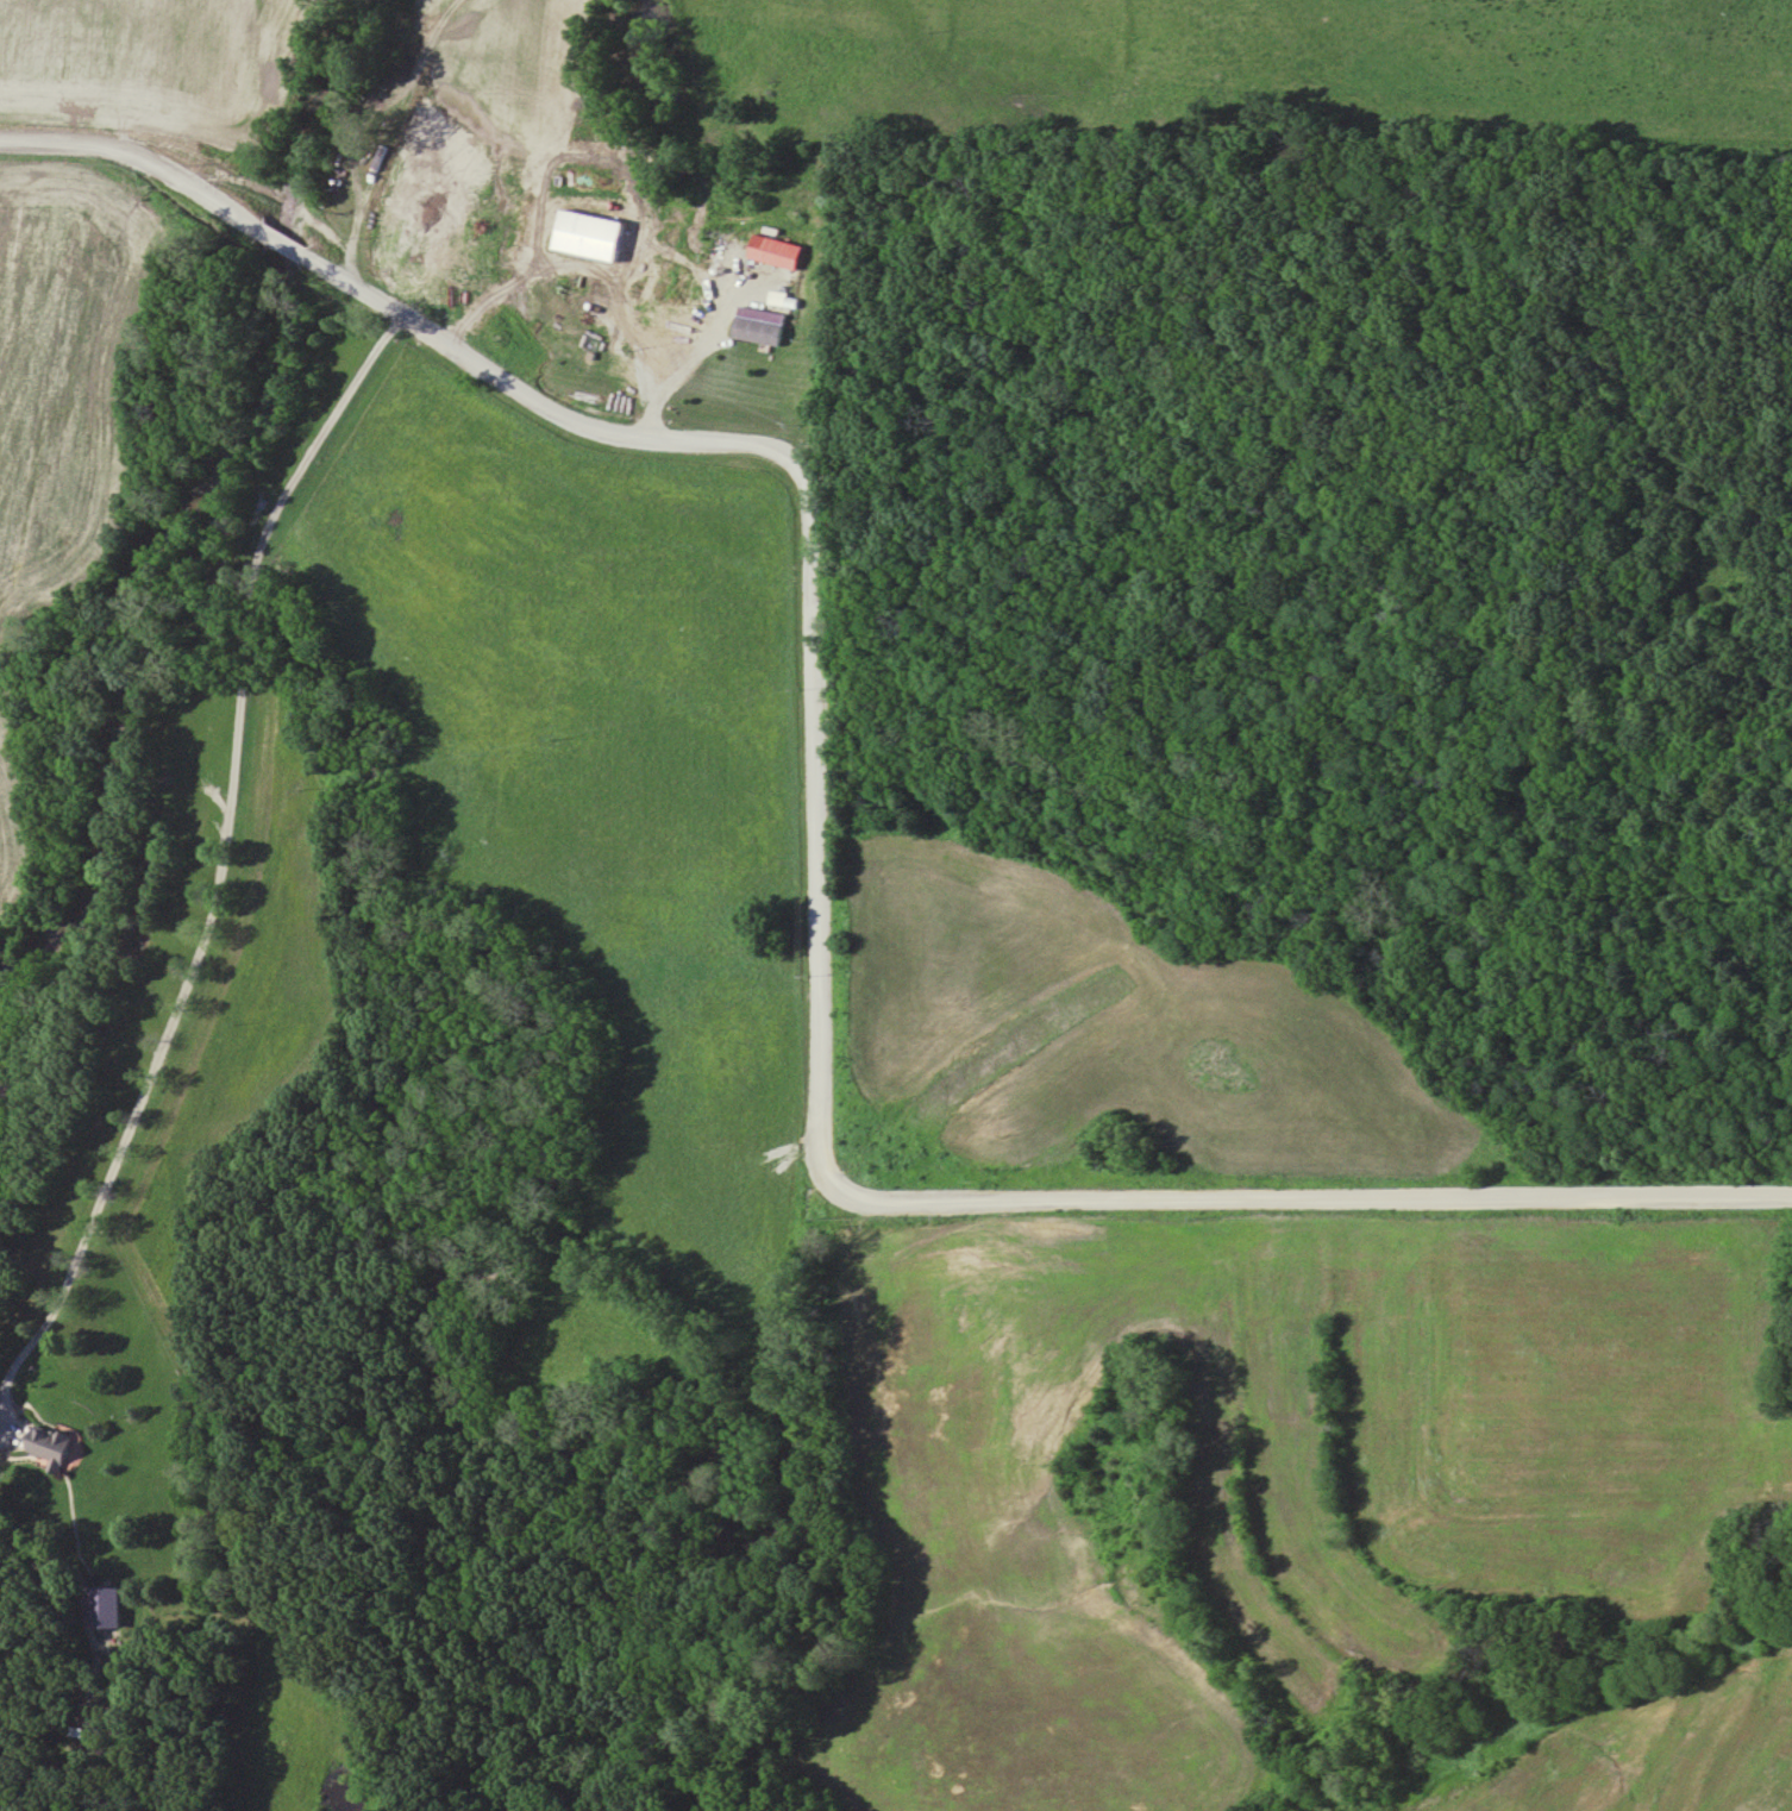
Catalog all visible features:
road: (386, 133)
road: (131, 161)
road: (278, 240)
building: (776, 250)
building: (759, 328)
road: (673, 372)
river: (201, 502)
road: (215, 888)
road: (817, 1034)
building: (56, 1446)
building: (108, 1605)

